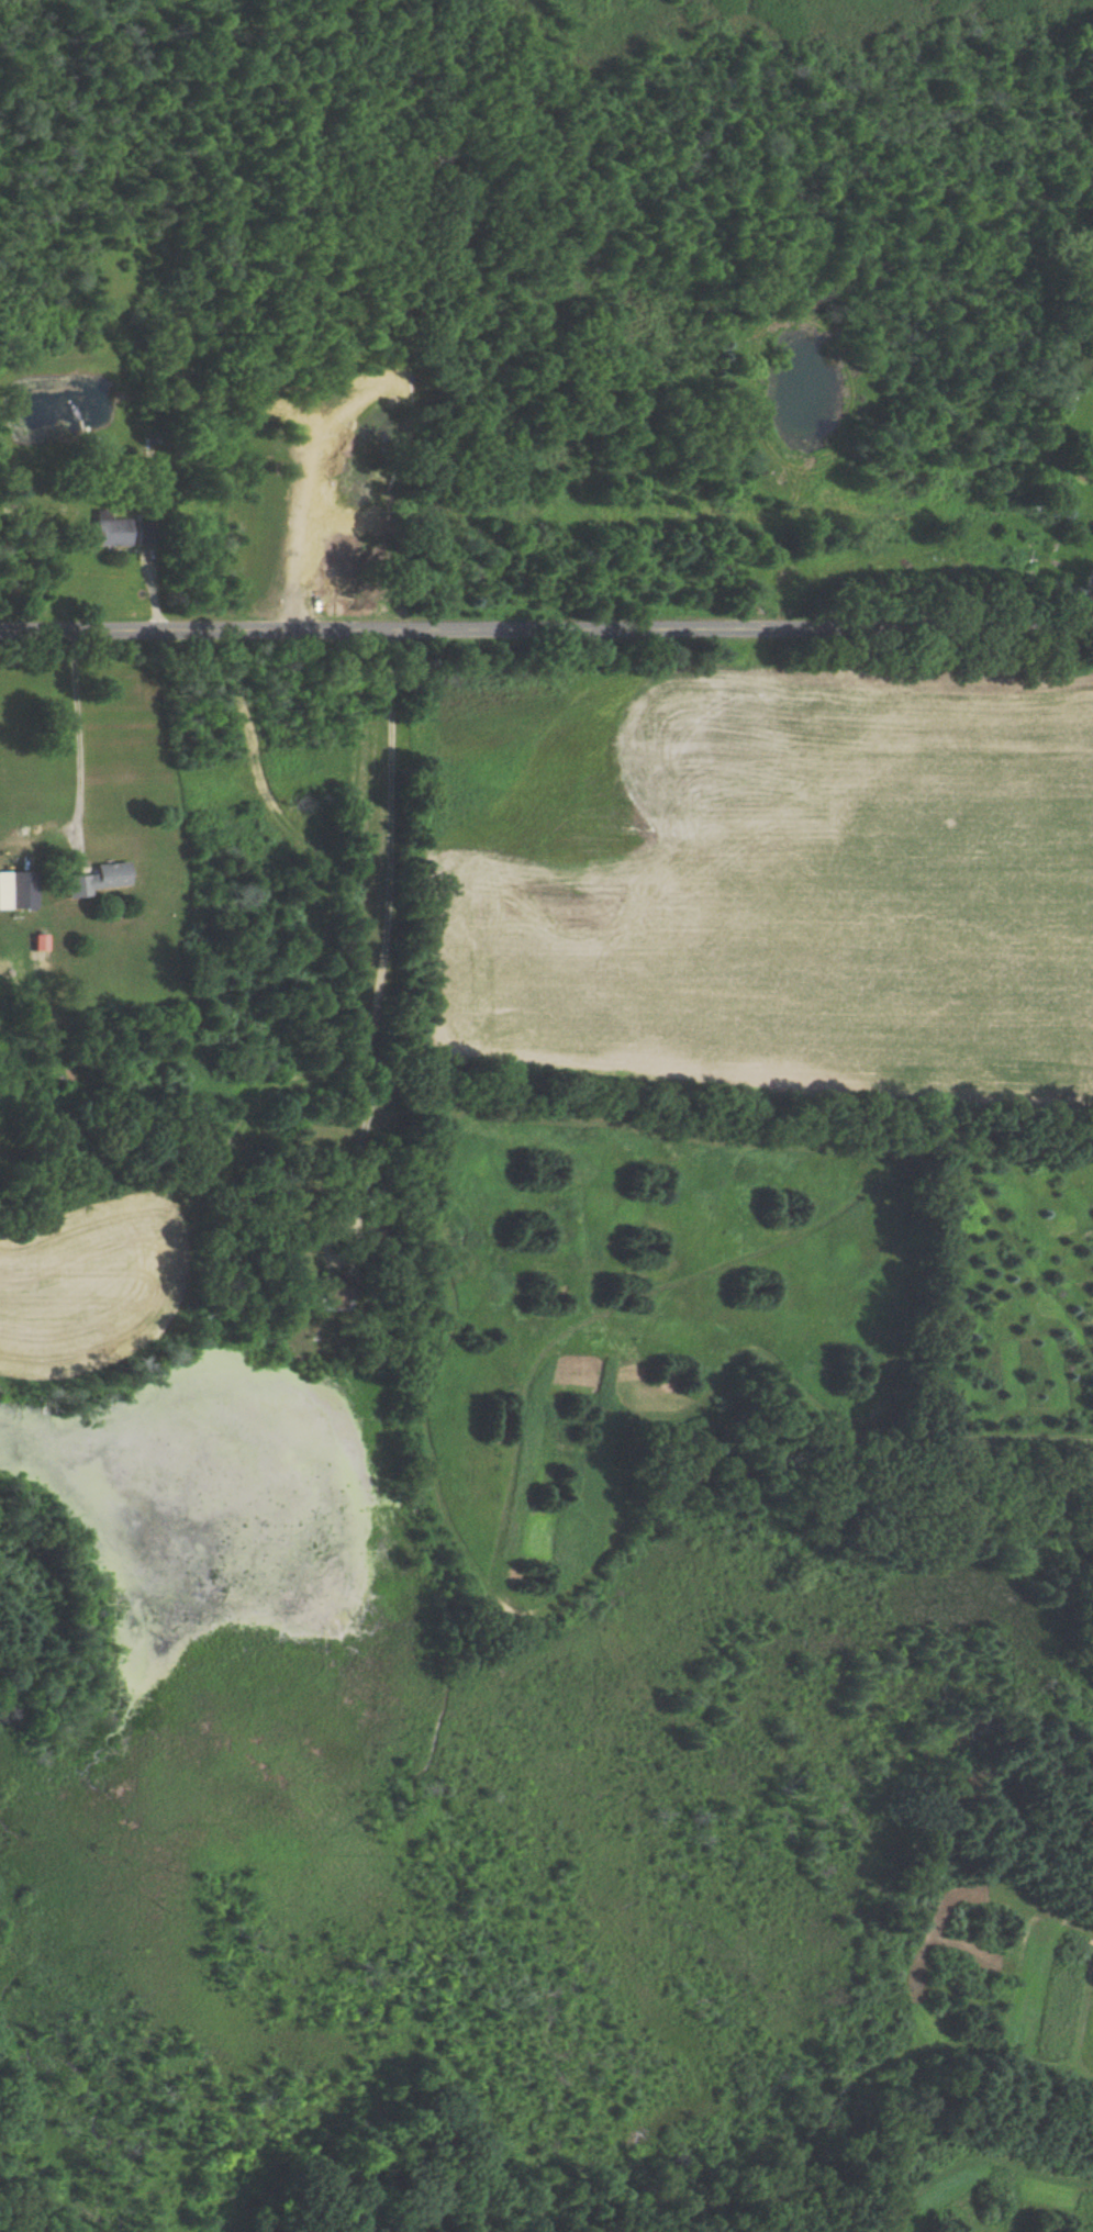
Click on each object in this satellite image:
building: (1078, 278)
building: (109, 529)
road: (1088, 606)
road: (546, 629)
road: (76, 732)
building: (93, 879)
building: (15, 890)
road: (386, 924)
building: (331, 1298)

